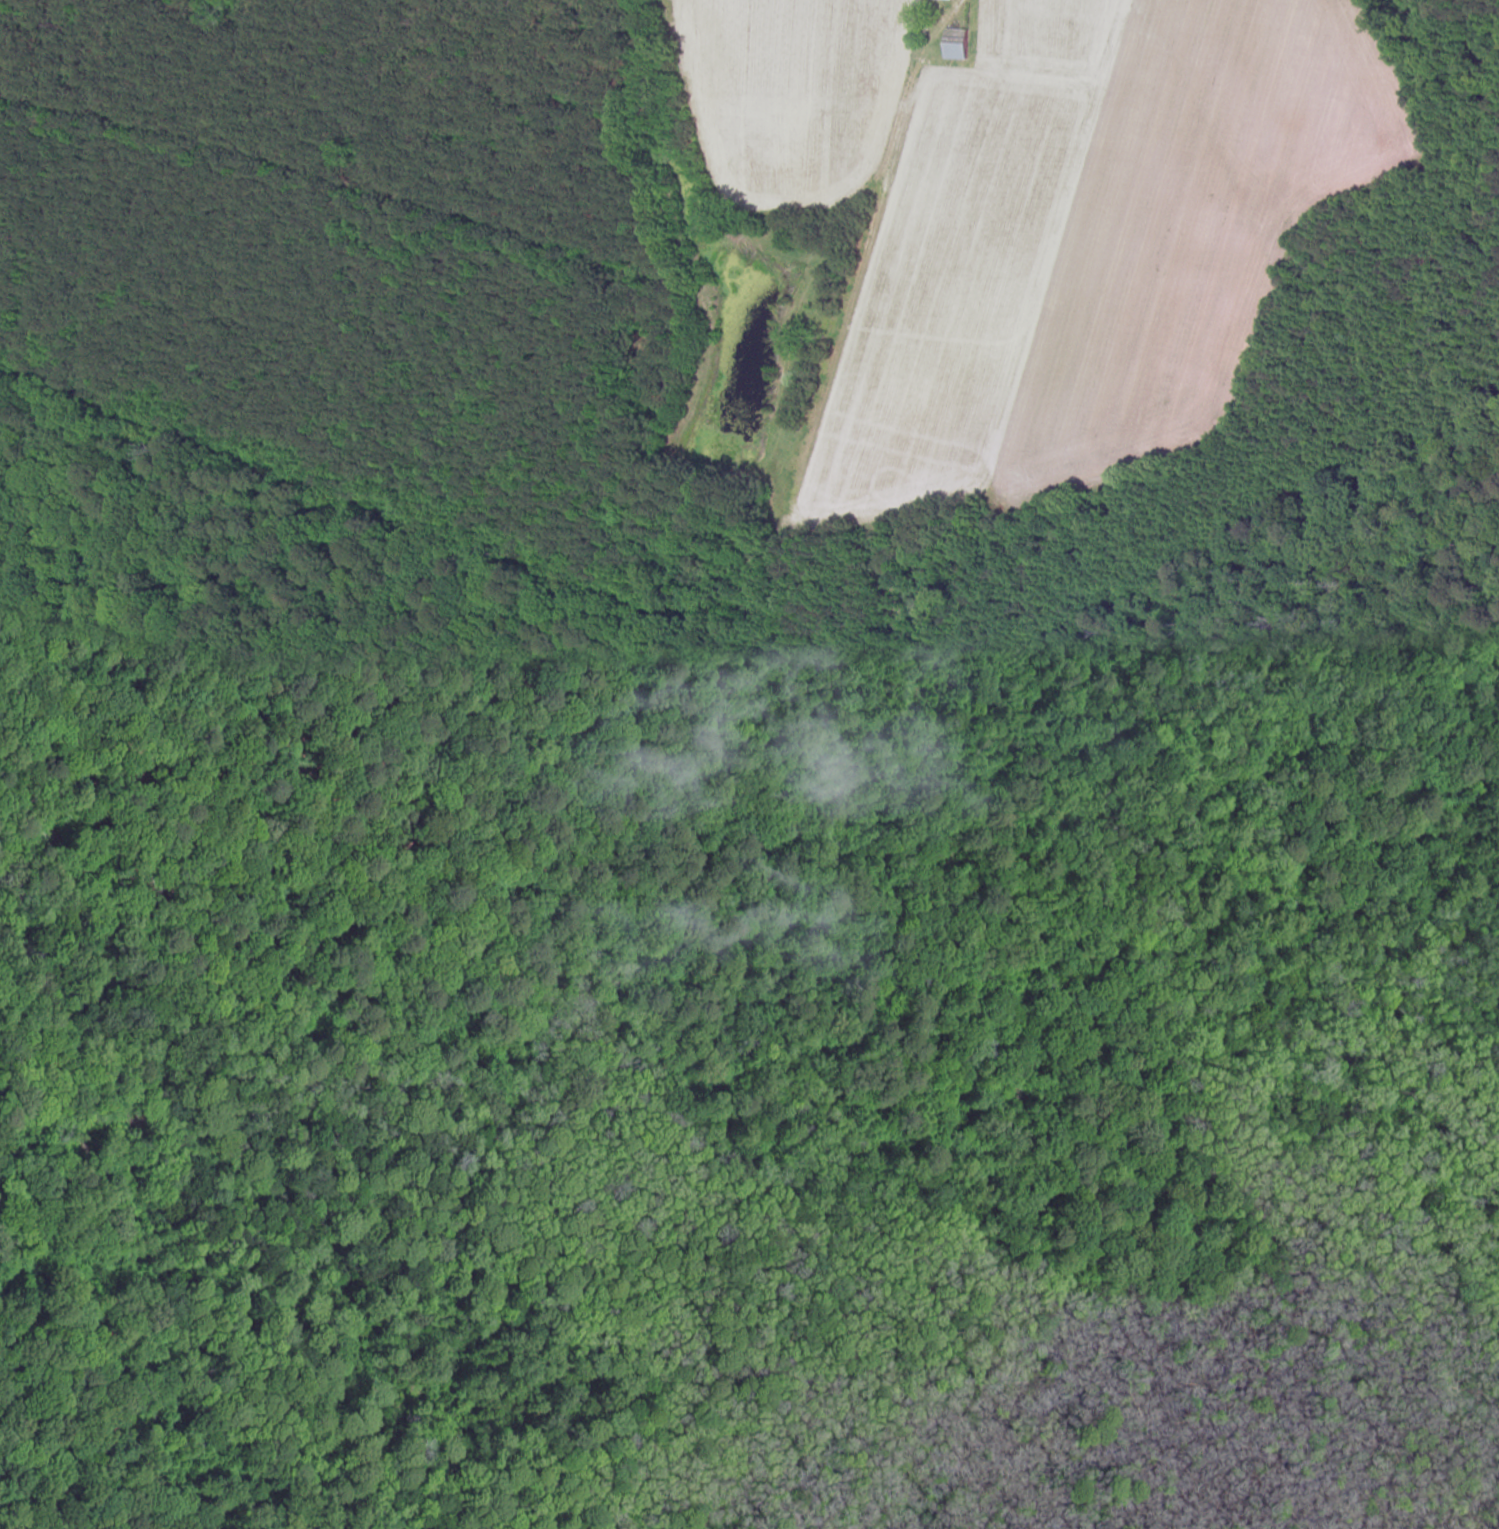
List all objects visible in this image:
road: (979, 26)
building: (961, 44)
park: (727, 1018)

